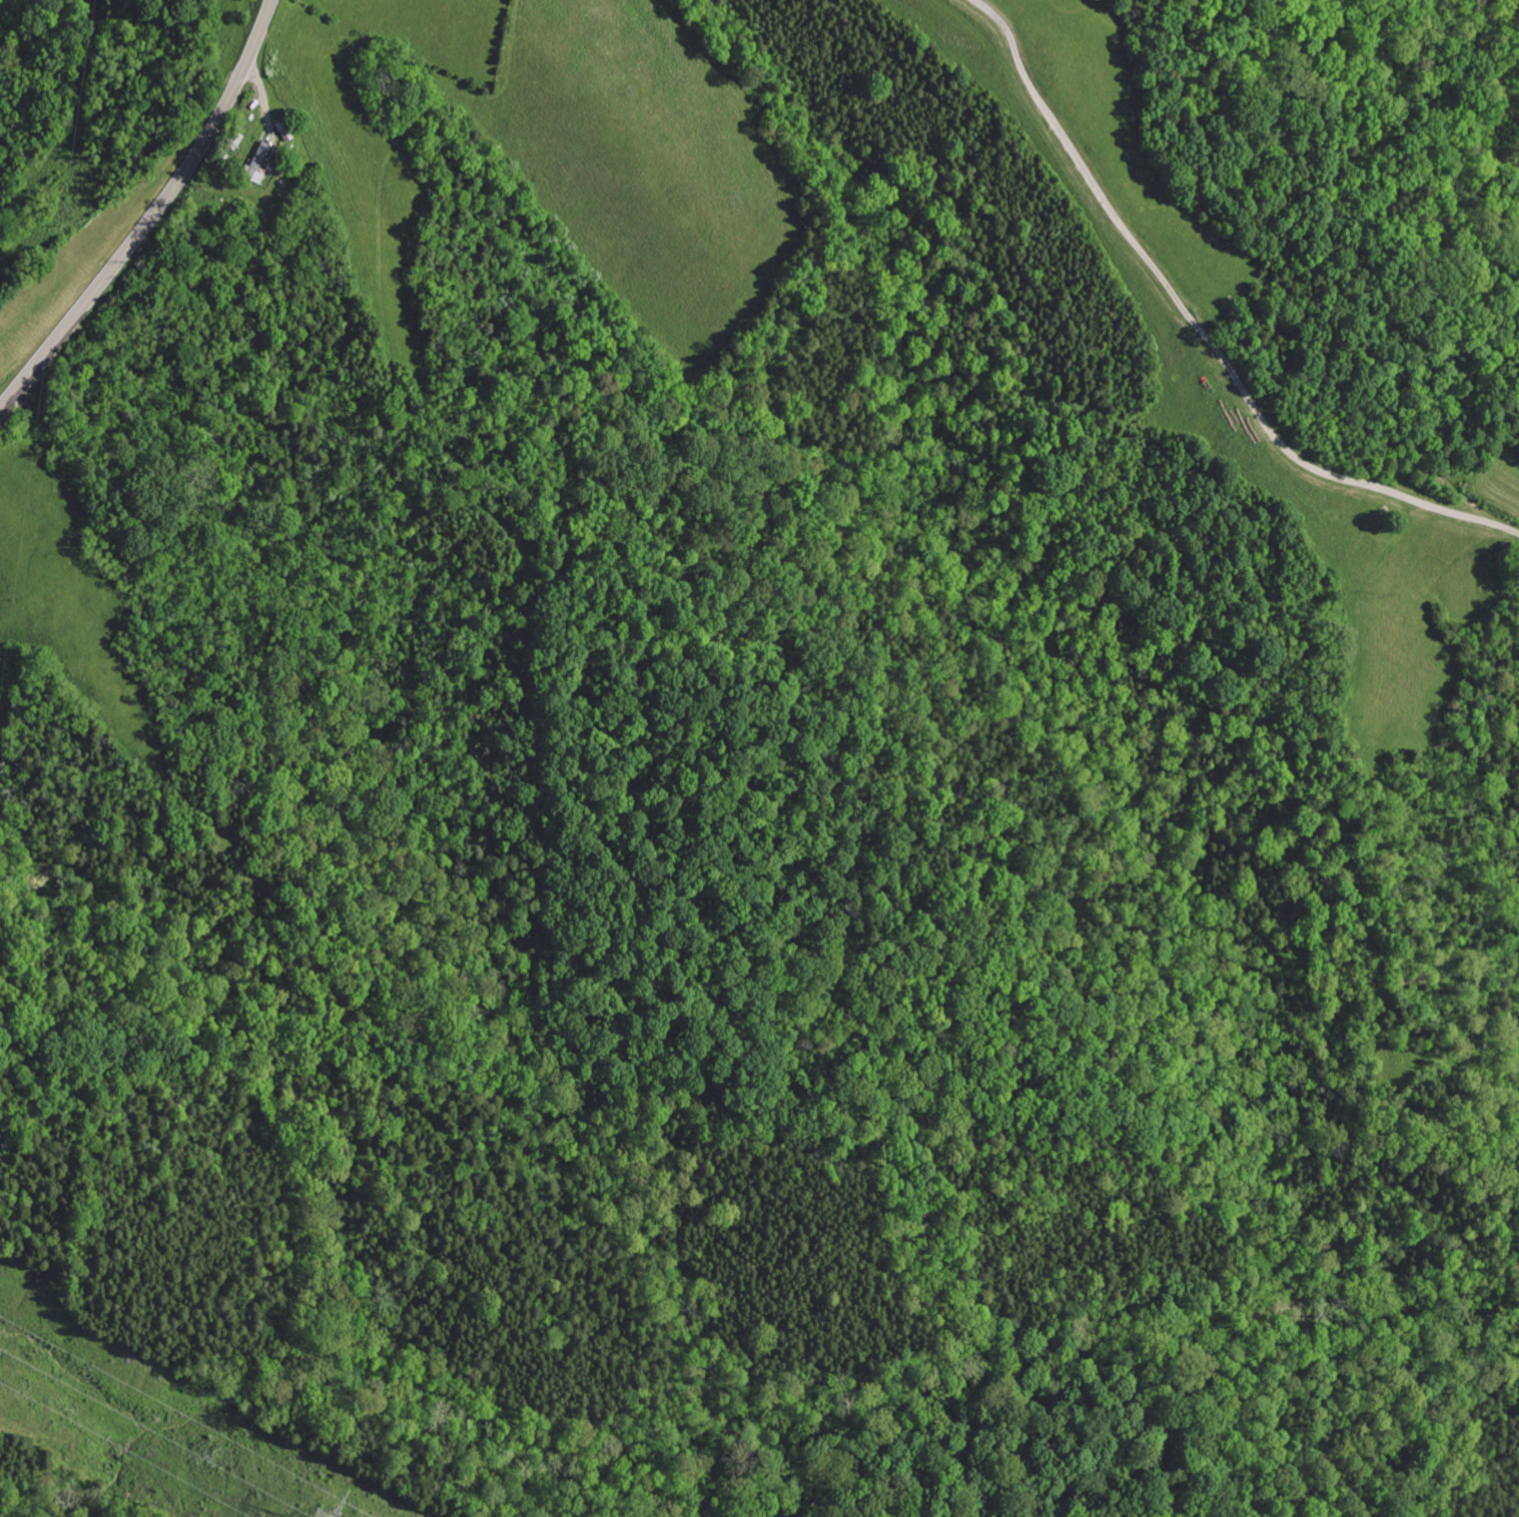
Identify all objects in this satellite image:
building: (255, 163)
road: (155, 216)
road: (1190, 309)

